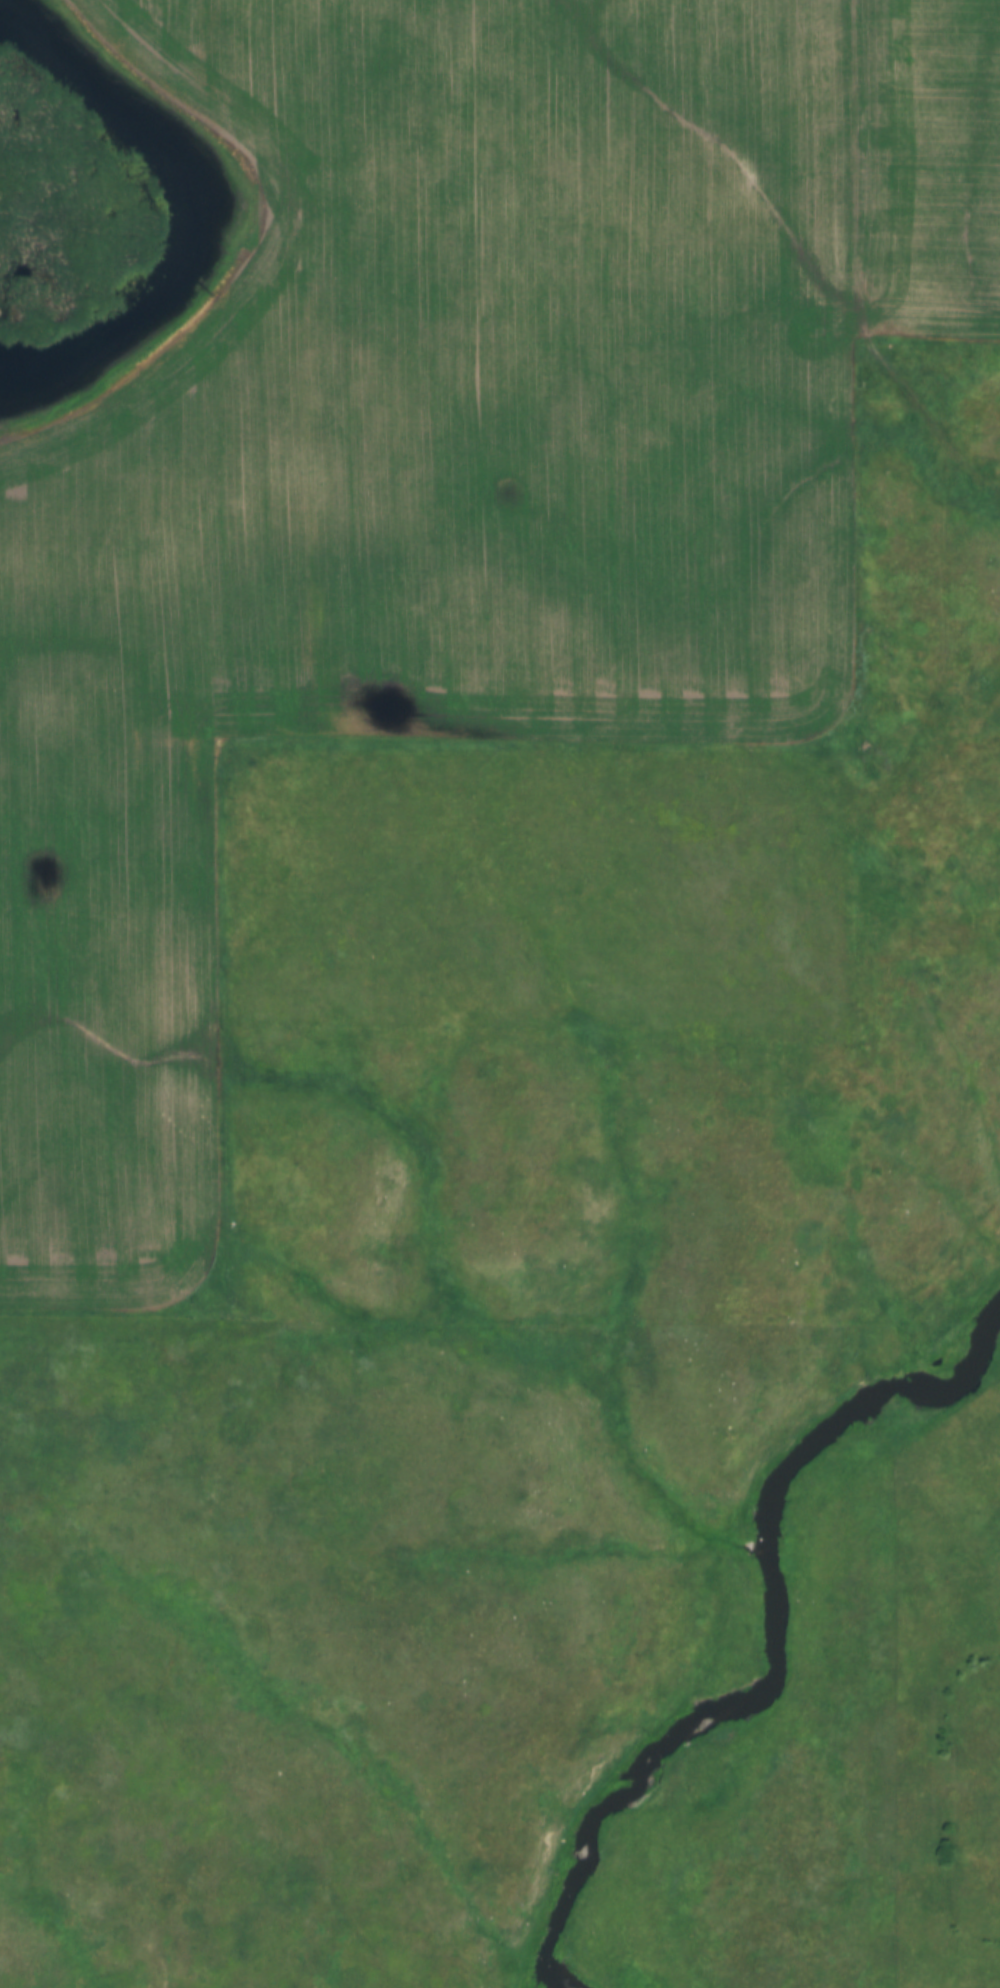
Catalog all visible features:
road: (863, 139)

